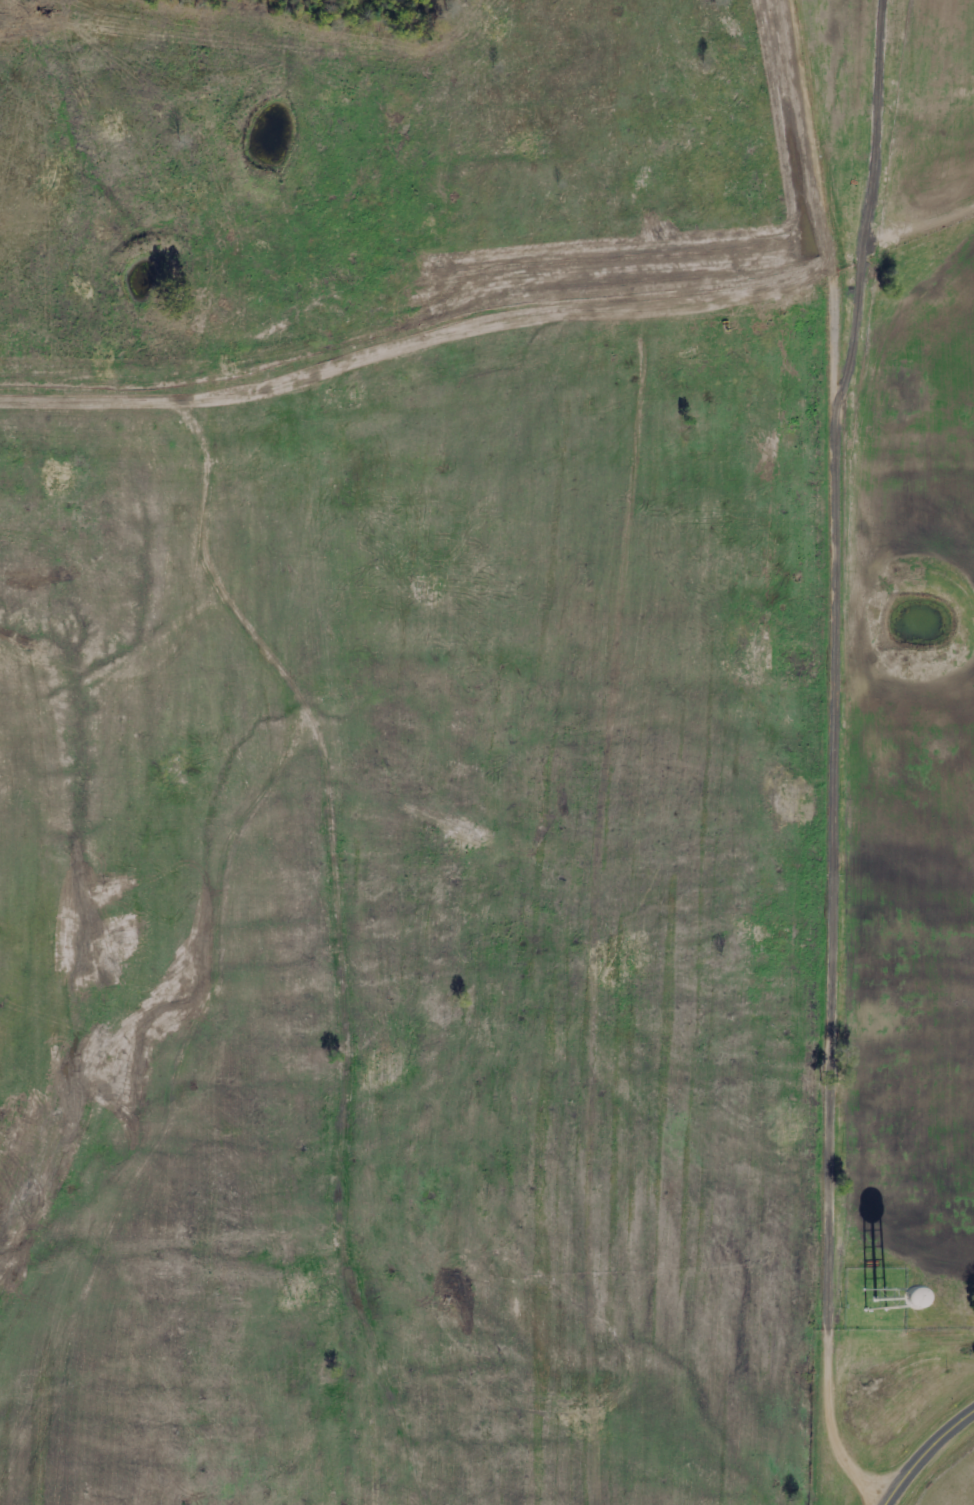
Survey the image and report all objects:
road: (924, 1454)

